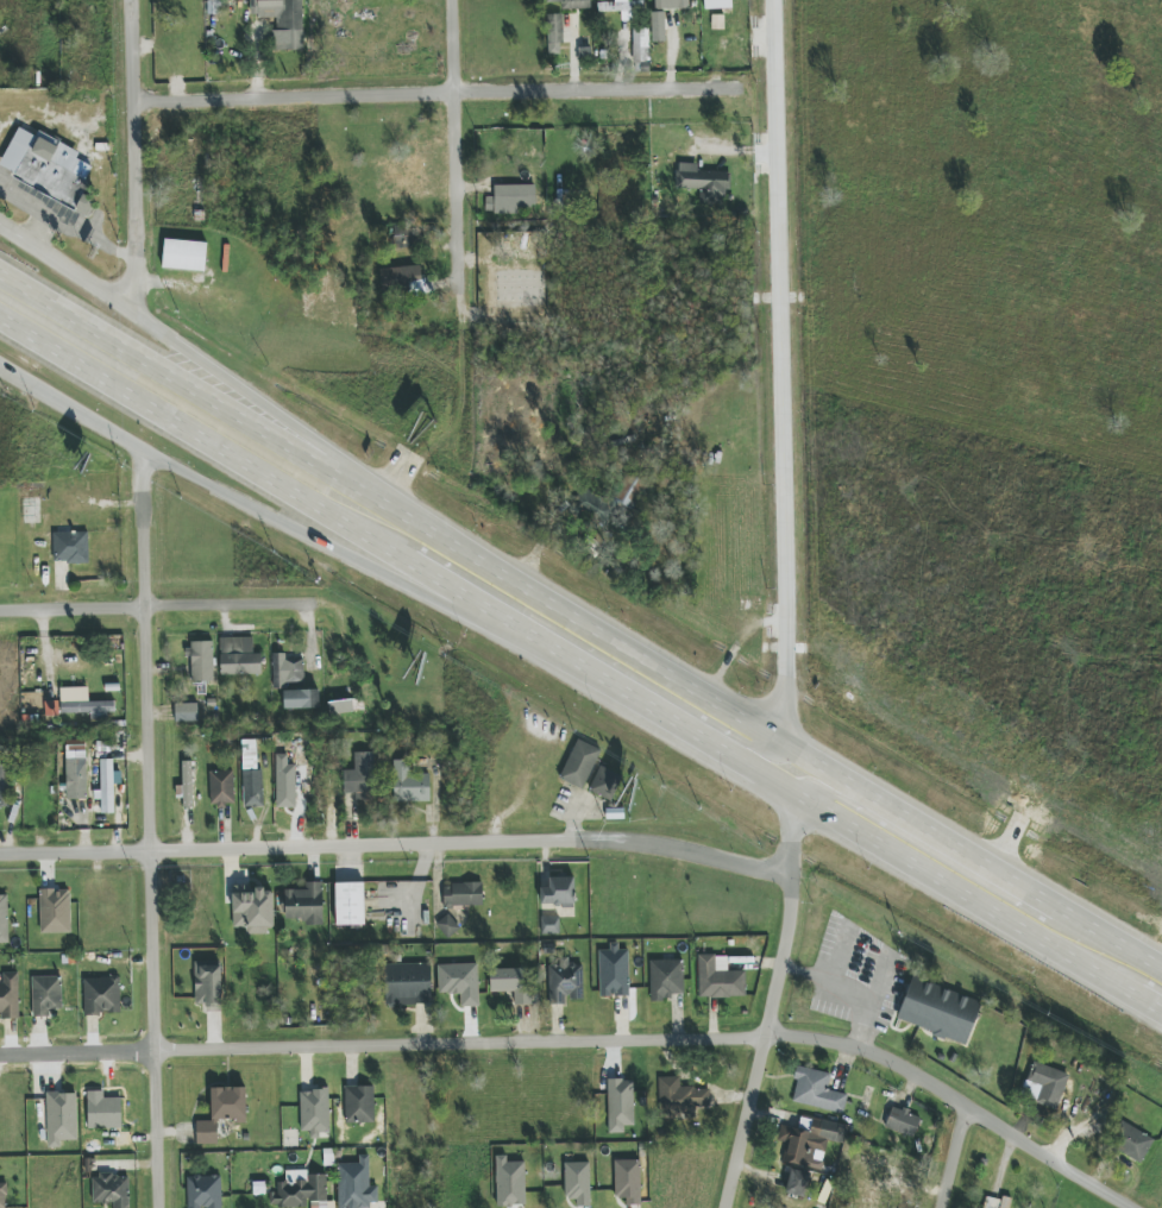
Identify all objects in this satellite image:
building: (572, 4)
building: (671, 4)
building: (717, 4)
building: (621, 8)
building: (282, 21)
building: (658, 30)
building: (554, 34)
building: (640, 50)
road: (442, 101)
building: (535, 143)
road: (140, 157)
building: (48, 169)
road: (460, 174)
building: (703, 183)
building: (511, 199)
building: (403, 235)
building: (184, 256)
road: (184, 350)
road: (779, 371)
road: (181, 378)
building: (628, 496)
road: (348, 526)
building: (71, 547)
road: (346, 554)
road: (159, 609)
road: (572, 614)
road: (589, 650)
building: (239, 656)
building: (201, 661)
building: (285, 671)
building: (301, 699)
building: (84, 704)
building: (186, 712)
building: (579, 763)
building: (299, 768)
building: (76, 775)
building: (251, 775)
building: (360, 778)
building: (6, 781)
building: (409, 784)
building: (604, 784)
building: (186, 785)
building: (107, 786)
building: (221, 788)
road: (869, 795)
road: (873, 818)
road: (152, 826)
road: (398, 837)
road: (930, 875)
road: (1006, 880)
building: (558, 892)
building: (461, 894)
building: (304, 904)
building: (350, 904)
building: (253, 910)
building: (55, 911)
building: (4, 918)
building: (549, 925)
building: (447, 926)
road: (1110, 943)
road: (838, 954)
building: (614, 971)
building: (666, 979)
building: (718, 979)
building: (460, 982)
building: (564, 982)
building: (510, 983)
road: (880, 983)
building: (408, 984)
building: (208, 986)
road: (848, 992)
building: (45, 995)
building: (101, 995)
building: (10, 996)
road: (774, 1001)
building: (938, 1011)
road: (590, 1039)
building: (1048, 1084)
building: (816, 1091)
building: (680, 1097)
building: (359, 1105)
building: (620, 1105)
building: (102, 1111)
building: (221, 1112)
building: (314, 1112)
building: (62, 1118)
building: (902, 1121)
building: (810, 1143)
building: (1133, 1144)
road: (956, 1158)
building: (881, 1165)
building: (627, 1181)
building: (509, 1182)
building: (578, 1183)
building: (796, 1183)
building: (356, 1184)
building: (258, 1189)
building: (111, 1190)
building: (203, 1191)
building: (302, 1193)
building: (2, 1196)
building: (995, 1202)

